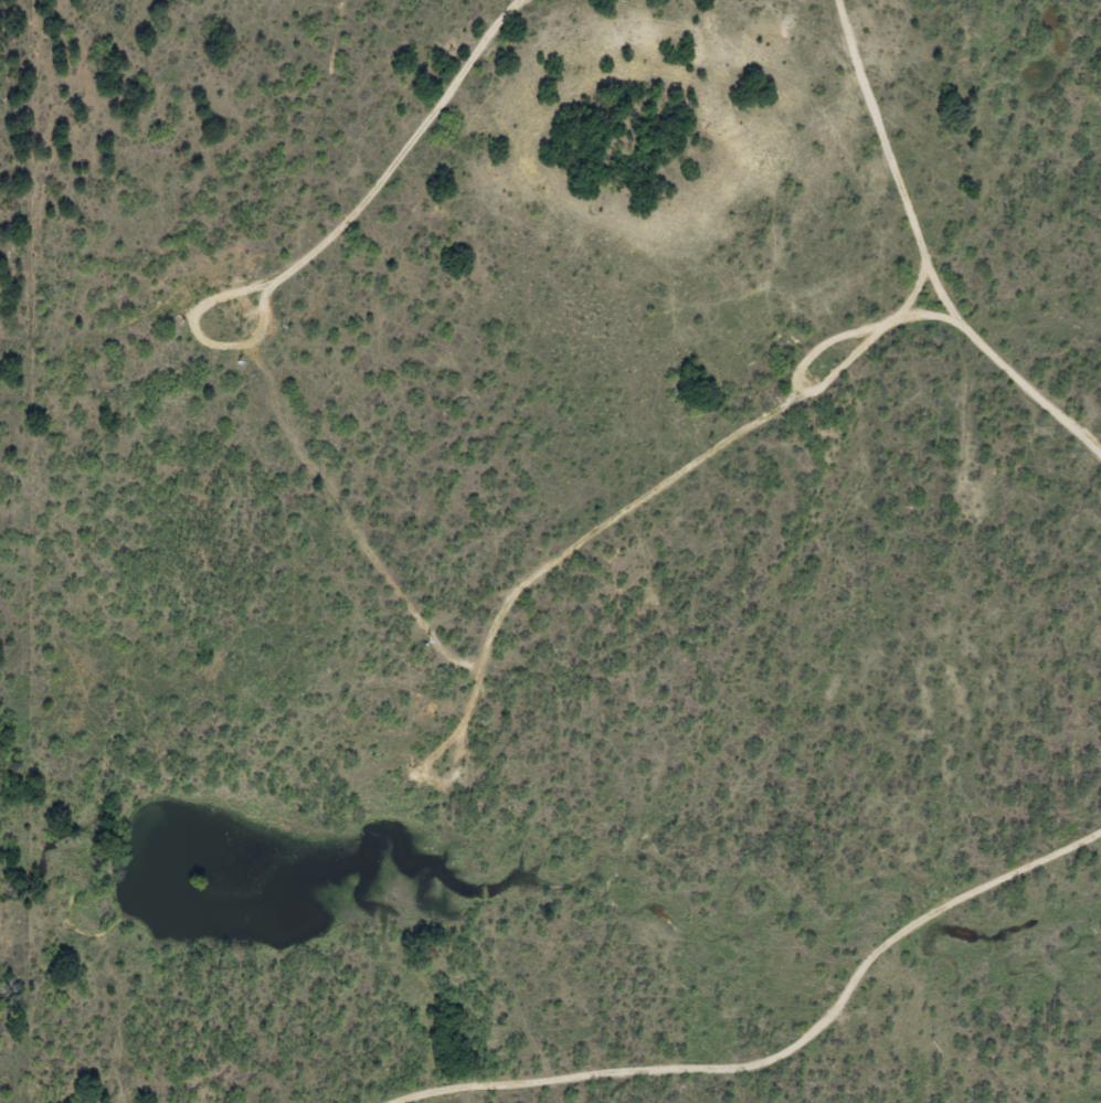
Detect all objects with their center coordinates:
road: (784, 527)
road: (901, 979)
road: (108, 1039)

